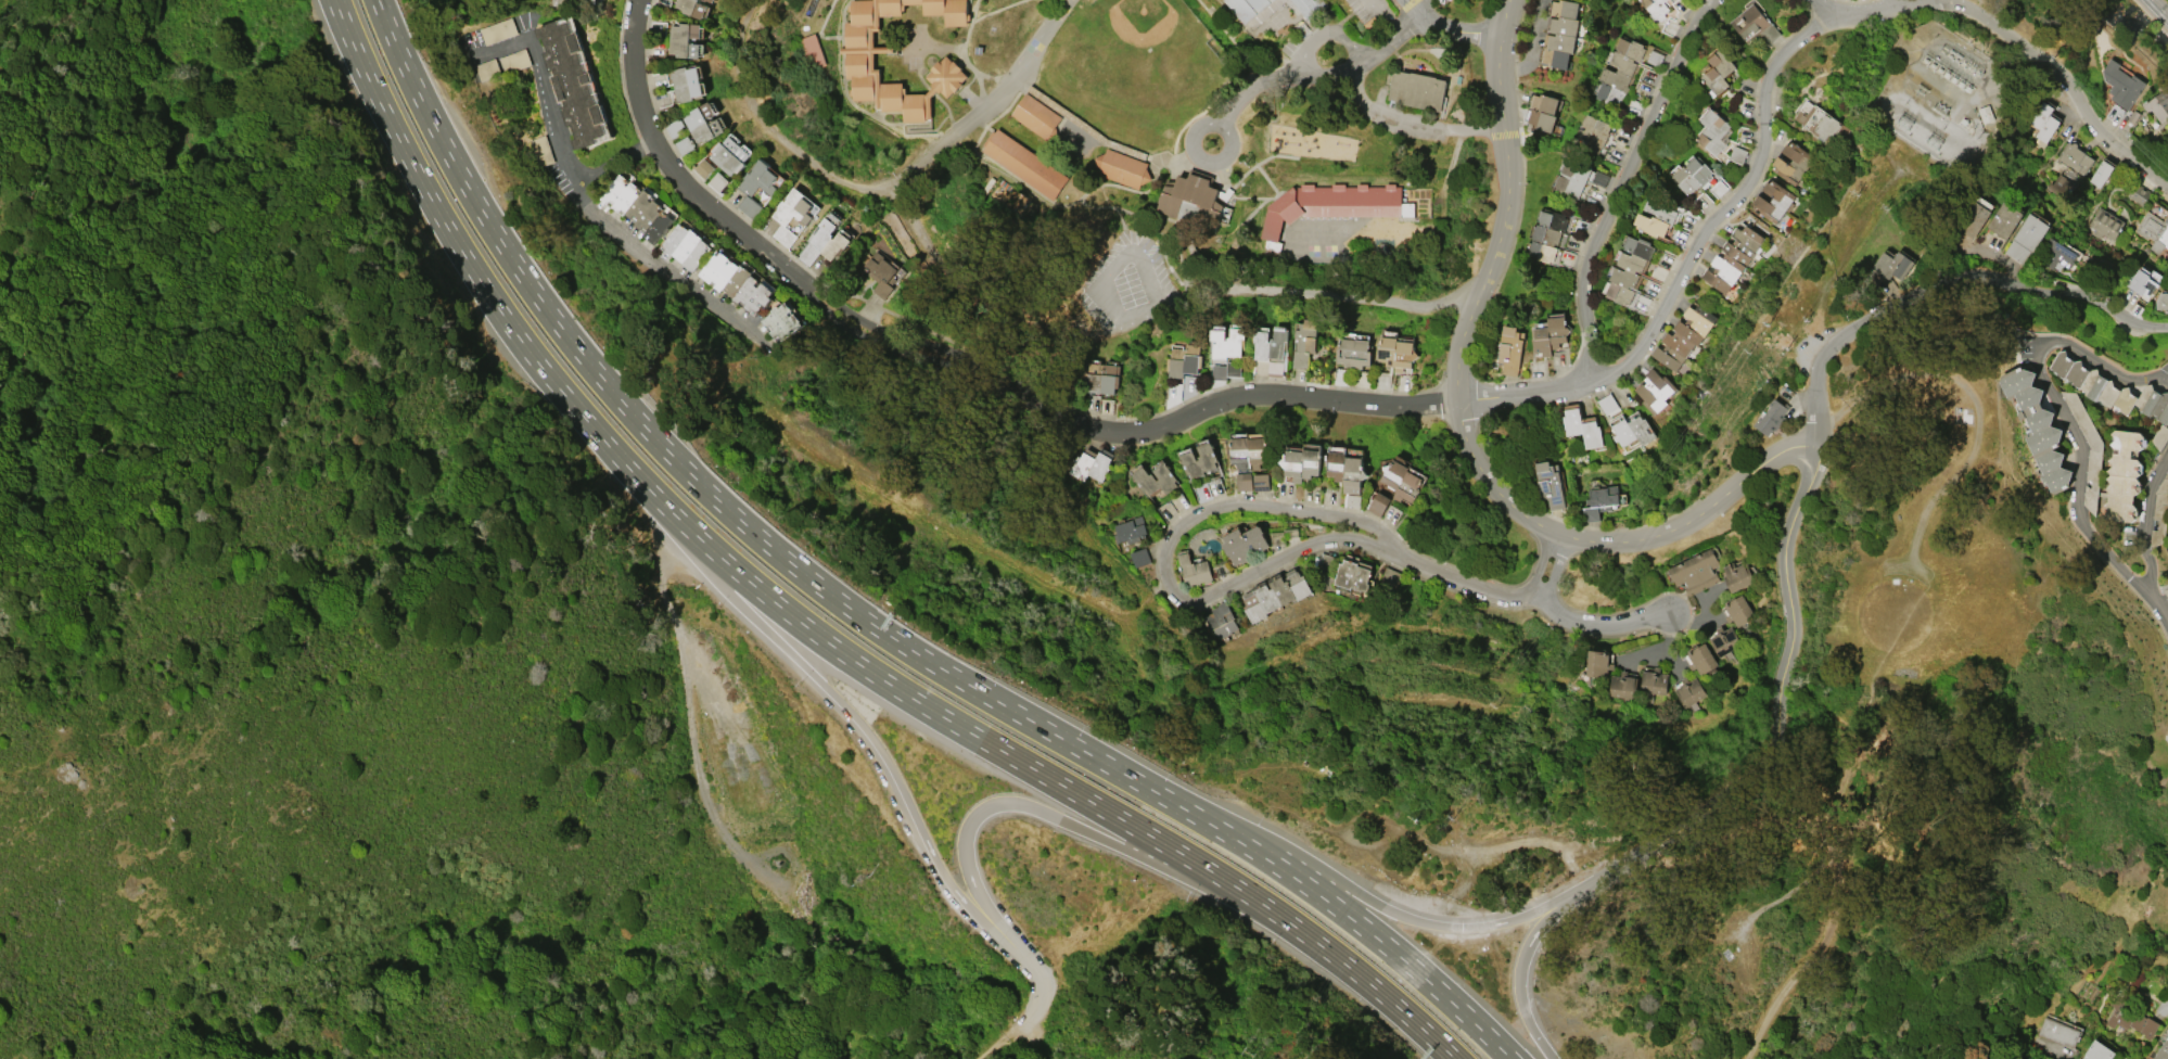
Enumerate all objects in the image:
building: (709, 0)
building: (567, 3)
building: (1257, 3)
road: (1428, 7)
building: (690, 8)
building: (1310, 8)
building: (1657, 8)
road: (1823, 8)
road: (1880, 8)
road: (2159, 8)
building: (1240, 9)
road: (1386, 14)
road: (1410, 21)
building: (1755, 25)
road: (1449, 28)
building: (1561, 34)
building: (683, 39)
road: (1350, 39)
road: (1378, 44)
road: (1532, 47)
building: (812, 51)
building: (1655, 58)
building: (859, 61)
building: (1620, 72)
building: (1719, 72)
building: (573, 82)
building: (685, 82)
road: (1257, 82)
road: (2057, 84)
building: (2122, 85)
building: (1417, 90)
power substation: (1940, 99)
building: (2158, 104)
building: (1543, 112)
building: (1987, 114)
building: (698, 115)
building: (1035, 116)
road: (1413, 122)
building: (2044, 122)
building: (1822, 123)
road: (552, 127)
road: (1193, 127)
building: (706, 130)
building: (1714, 132)
building: (1593, 136)
building: (684, 145)
building: (723, 150)
building: (540, 151)
building: (1738, 154)
building: (2076, 160)
building: (734, 161)
building: (1793, 163)
building: (1023, 164)
building: (704, 168)
building: (1123, 168)
building: (2102, 174)
building: (1693, 176)
building: (1572, 179)
road: (1621, 180)
building: (718, 182)
building: (755, 187)
building: (2062, 187)
building: (621, 193)
building: (2139, 195)
building: (1191, 201)
building: (1774, 202)
building: (1331, 206)
road: (1734, 207)
building: (643, 209)
building: (793, 215)
building: (1657, 217)
building: (1972, 218)
building: (2005, 219)
building: (2106, 224)
building: (658, 228)
building: (2154, 231)
road: (448, 233)
building: (1547, 235)
building: (675, 238)
building: (2027, 238)
building: (825, 243)
building: (687, 245)
building: (697, 255)
building: (2056, 255)
road: (647, 258)
building: (1734, 258)
building: (1889, 268)
building: (1629, 269)
building: (718, 270)
building: (881, 273)
building: (737, 280)
building: (2138, 280)
road: (1946, 288)
building: (753, 294)
building: (2161, 301)
building: (781, 321)
road: (1114, 324)
building: (1550, 336)
building: (1685, 336)
building: (1227, 345)
building: (1308, 345)
building: (1274, 346)
building: (1354, 350)
building: (1510, 350)
building: (1397, 353)
building: (1184, 360)
road: (954, 368)
building: (1102, 379)
road: (1891, 381)
building: (1655, 391)
road: (1526, 392)
building: (2110, 392)
building: (1608, 404)
building: (1772, 417)
building: (2027, 424)
road: (1462, 426)
building: (1582, 429)
building: (1633, 431)
building: (1251, 450)
building: (1199, 463)
building: (1303, 463)
road: (626, 467)
building: (1091, 468)
building: (1348, 471)
building: (2124, 474)
building: (1401, 480)
road: (698, 482)
building: (1145, 482)
road: (2080, 483)
building: (1246, 484)
building: (1263, 485)
building: (1551, 485)
building: (1352, 500)
building: (1379, 503)
building: (1599, 503)
road: (1189, 522)
building: (2166, 523)
building: (1132, 533)
building: (1246, 544)
building: (1140, 557)
road: (1540, 563)
road: (1555, 567)
building: (1194, 570)
building: (1695, 572)
building: (1736, 575)
building: (1352, 576)
building: (1389, 577)
road: (1459, 578)
building: (2167, 588)
building: (1275, 596)
road: (2159, 607)
building: (1737, 610)
building: (1221, 620)
road: (1594, 624)
building: (1724, 640)
building: (1700, 659)
building: (1598, 663)
building: (1654, 681)
building: (1622, 686)
building: (1688, 691)
road: (688, 713)
road: (852, 714)
road: (958, 725)
road: (1776, 725)
road: (1059, 819)
road: (1365, 898)
road: (1354, 921)
road: (1518, 977)
road: (1375, 987)
road: (1038, 1001)
road: (2166, 1001)
building: (2129, 1019)
building: (2056, 1031)
road: (992, 1047)
building: (2161, 1050)
building: (2097, 1051)
building: (2015, 1058)

